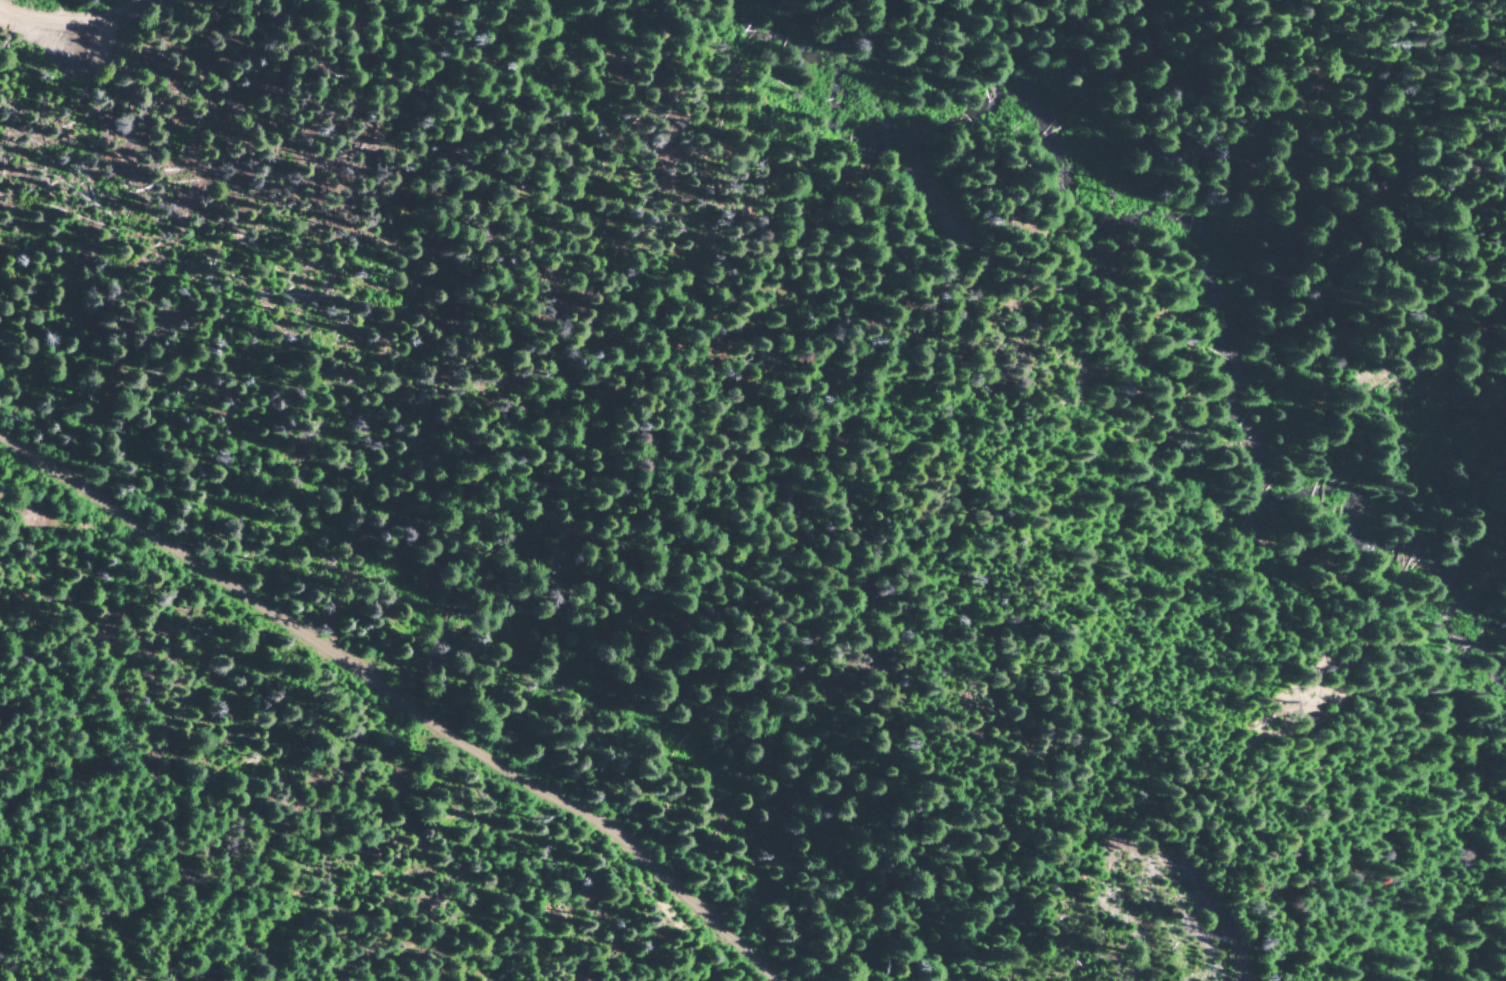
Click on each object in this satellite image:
road: (95, 26)
road: (439, 692)

